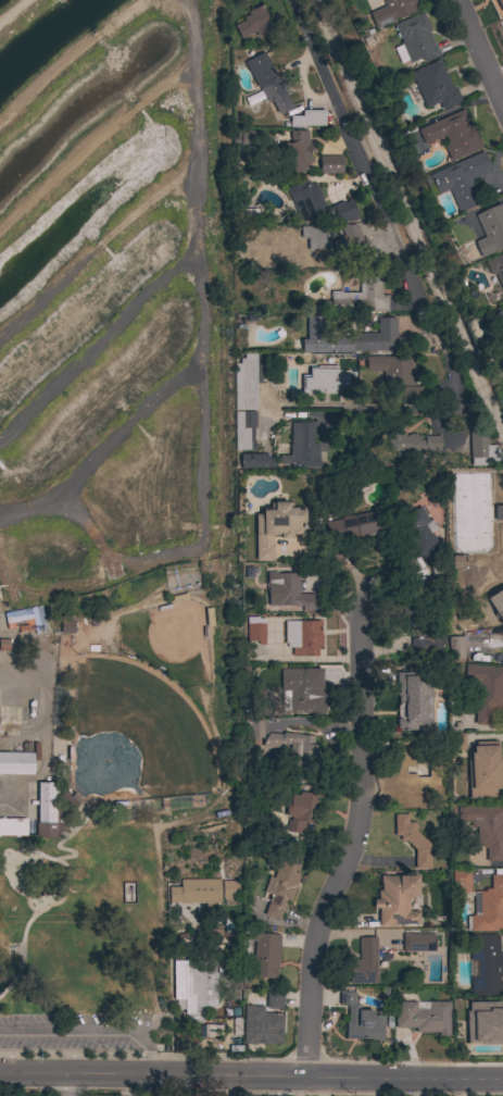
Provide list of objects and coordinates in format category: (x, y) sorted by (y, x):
building: (500, 4)
building: (391, 11)
building: (253, 23)
building: (502, 23)
building: (414, 39)
road: (478, 55)
building: (268, 82)
building: (433, 86)
building: (306, 119)
building: (452, 134)
building: (246, 138)
building: (294, 151)
building: (329, 163)
building: (461, 180)
building: (317, 203)
road: (379, 210)
building: (250, 214)
building: (490, 229)
building: (312, 236)
building: (349, 241)
building: (494, 266)
building: (359, 298)
building: (500, 313)
building: (351, 338)
building: (397, 374)
building: (325, 379)
building: (246, 381)
building: (243, 429)
building: (410, 445)
building: (301, 447)
building: (482, 451)
building: (252, 461)
building: (356, 524)
building: (276, 526)
park: (117, 528)
building: (419, 535)
building: (453, 561)
building: (289, 590)
building: (496, 603)
building: (25, 619)
building: (419, 625)
building: (66, 626)
building: (256, 628)
building: (302, 636)
park: (173, 640)
building: (455, 647)
building: (301, 690)
building: (410, 690)
building: (486, 692)
building: (435, 722)
park: (137, 737)
building: (455, 742)
building: (289, 749)
building: (16, 761)
building: (485, 772)
building: (408, 782)
building: (68, 797)
road: (215, 811)
building: (301, 811)
building: (48, 812)
building: (12, 826)
building: (486, 827)
building: (413, 842)
road: (351, 849)
road: (9, 862)
road: (3, 865)
building: (461, 882)
road: (64, 887)
building: (280, 887)
building: (229, 889)
building: (197, 893)
building: (395, 900)
road: (50, 907)
building: (488, 908)
building: (417, 943)
building: (263, 952)
building: (364, 962)
building: (486, 964)
building: (192, 987)
building: (274, 999)
building: (360, 1018)
building: (422, 1018)
building: (262, 1026)
building: (487, 1026)
road: (67, 1034)
parking lot: (76, 1034)
building: (183, 1046)
road: (110, 1075)
road: (361, 1080)
road: (70, 1085)
road: (299, 1087)

